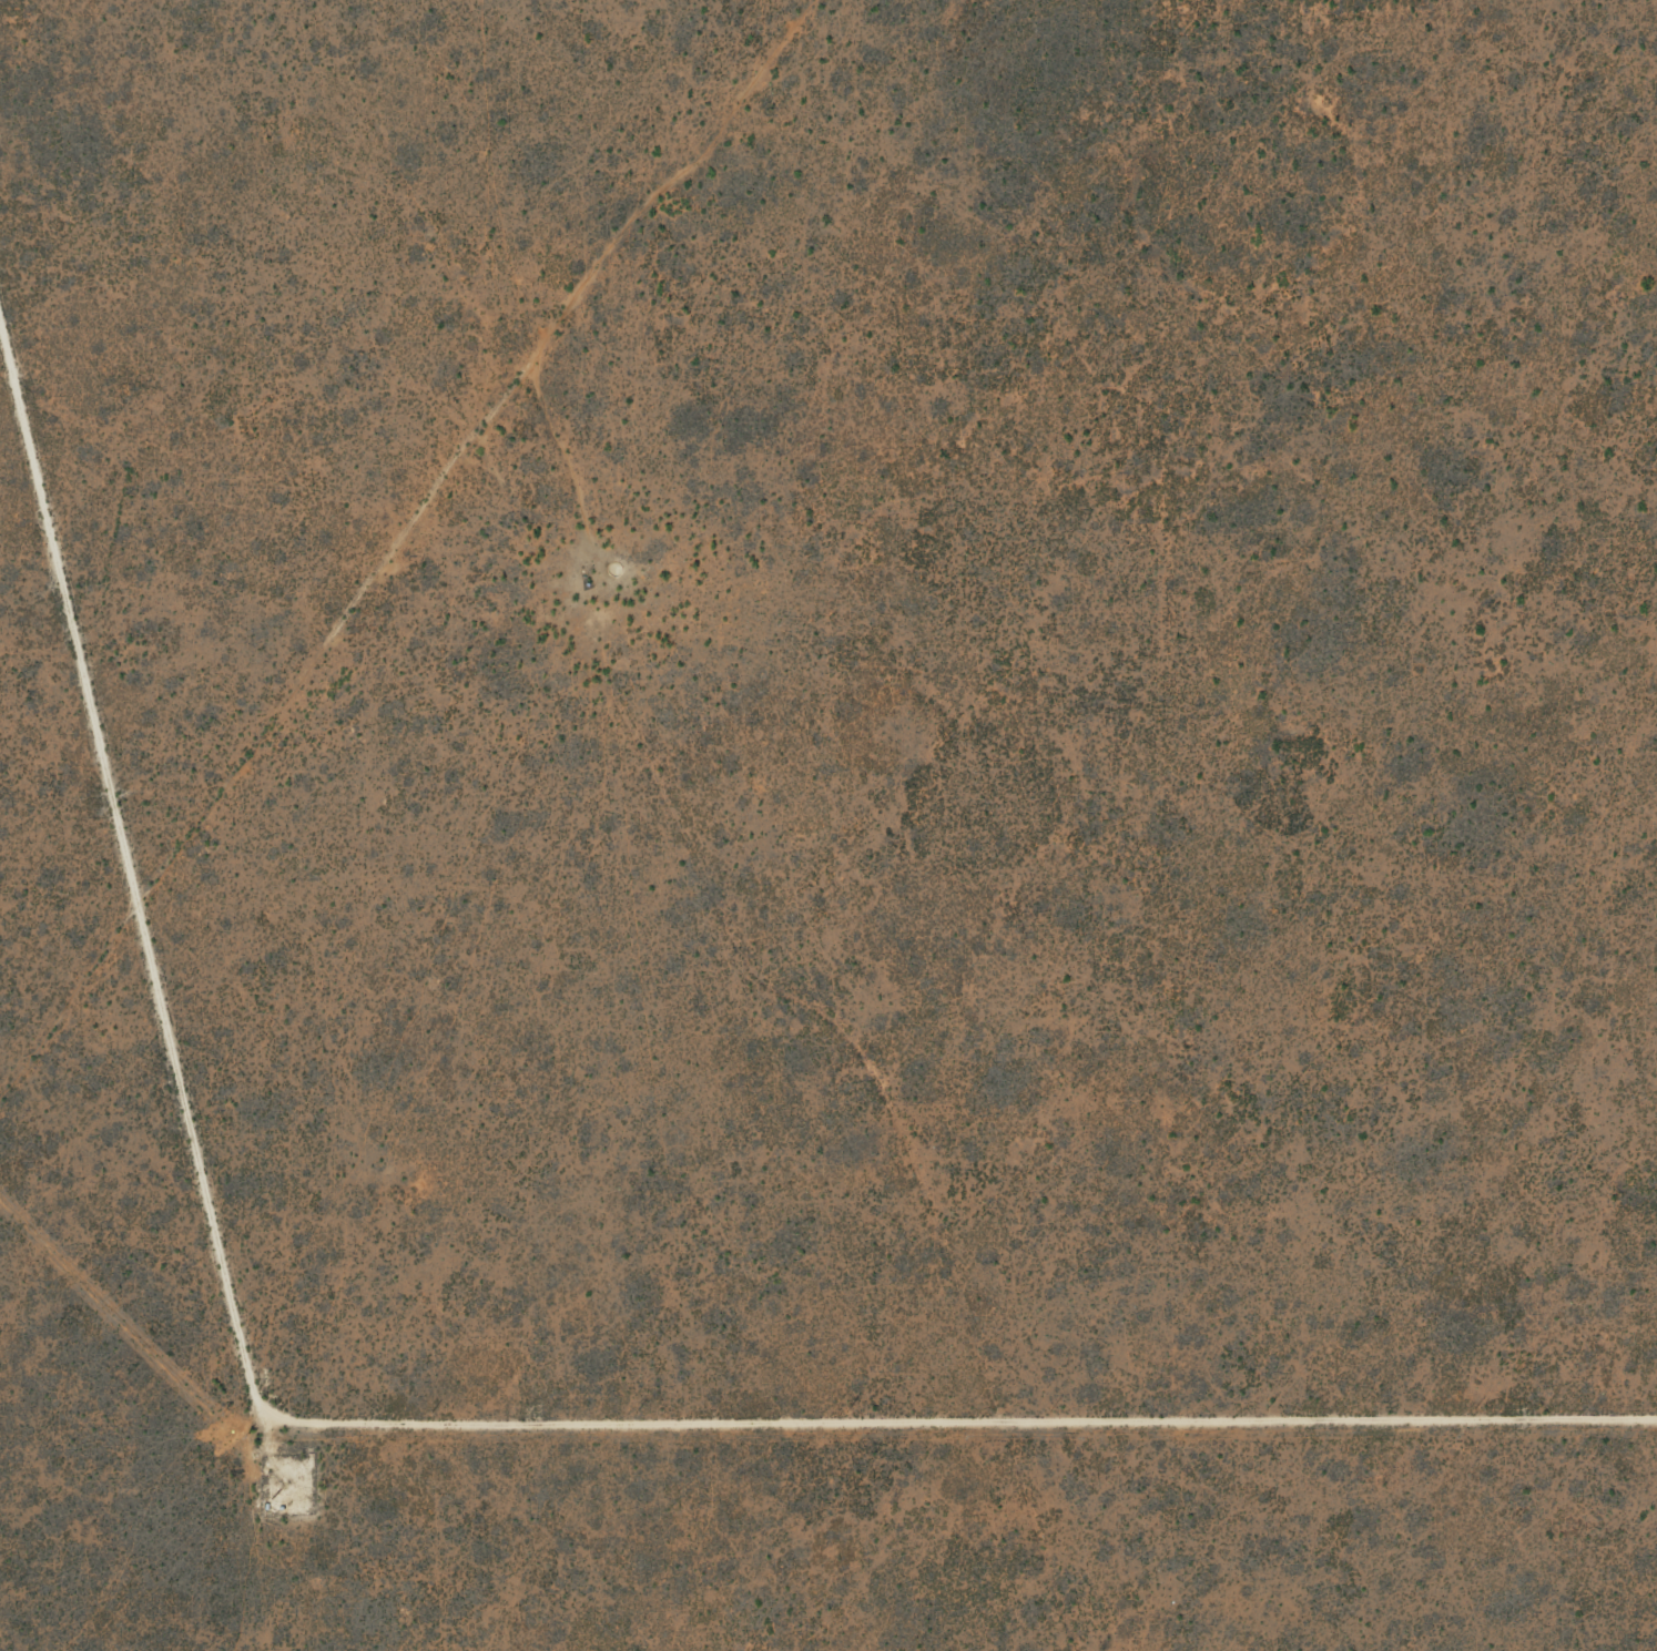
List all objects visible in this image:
road: (559, 274)

